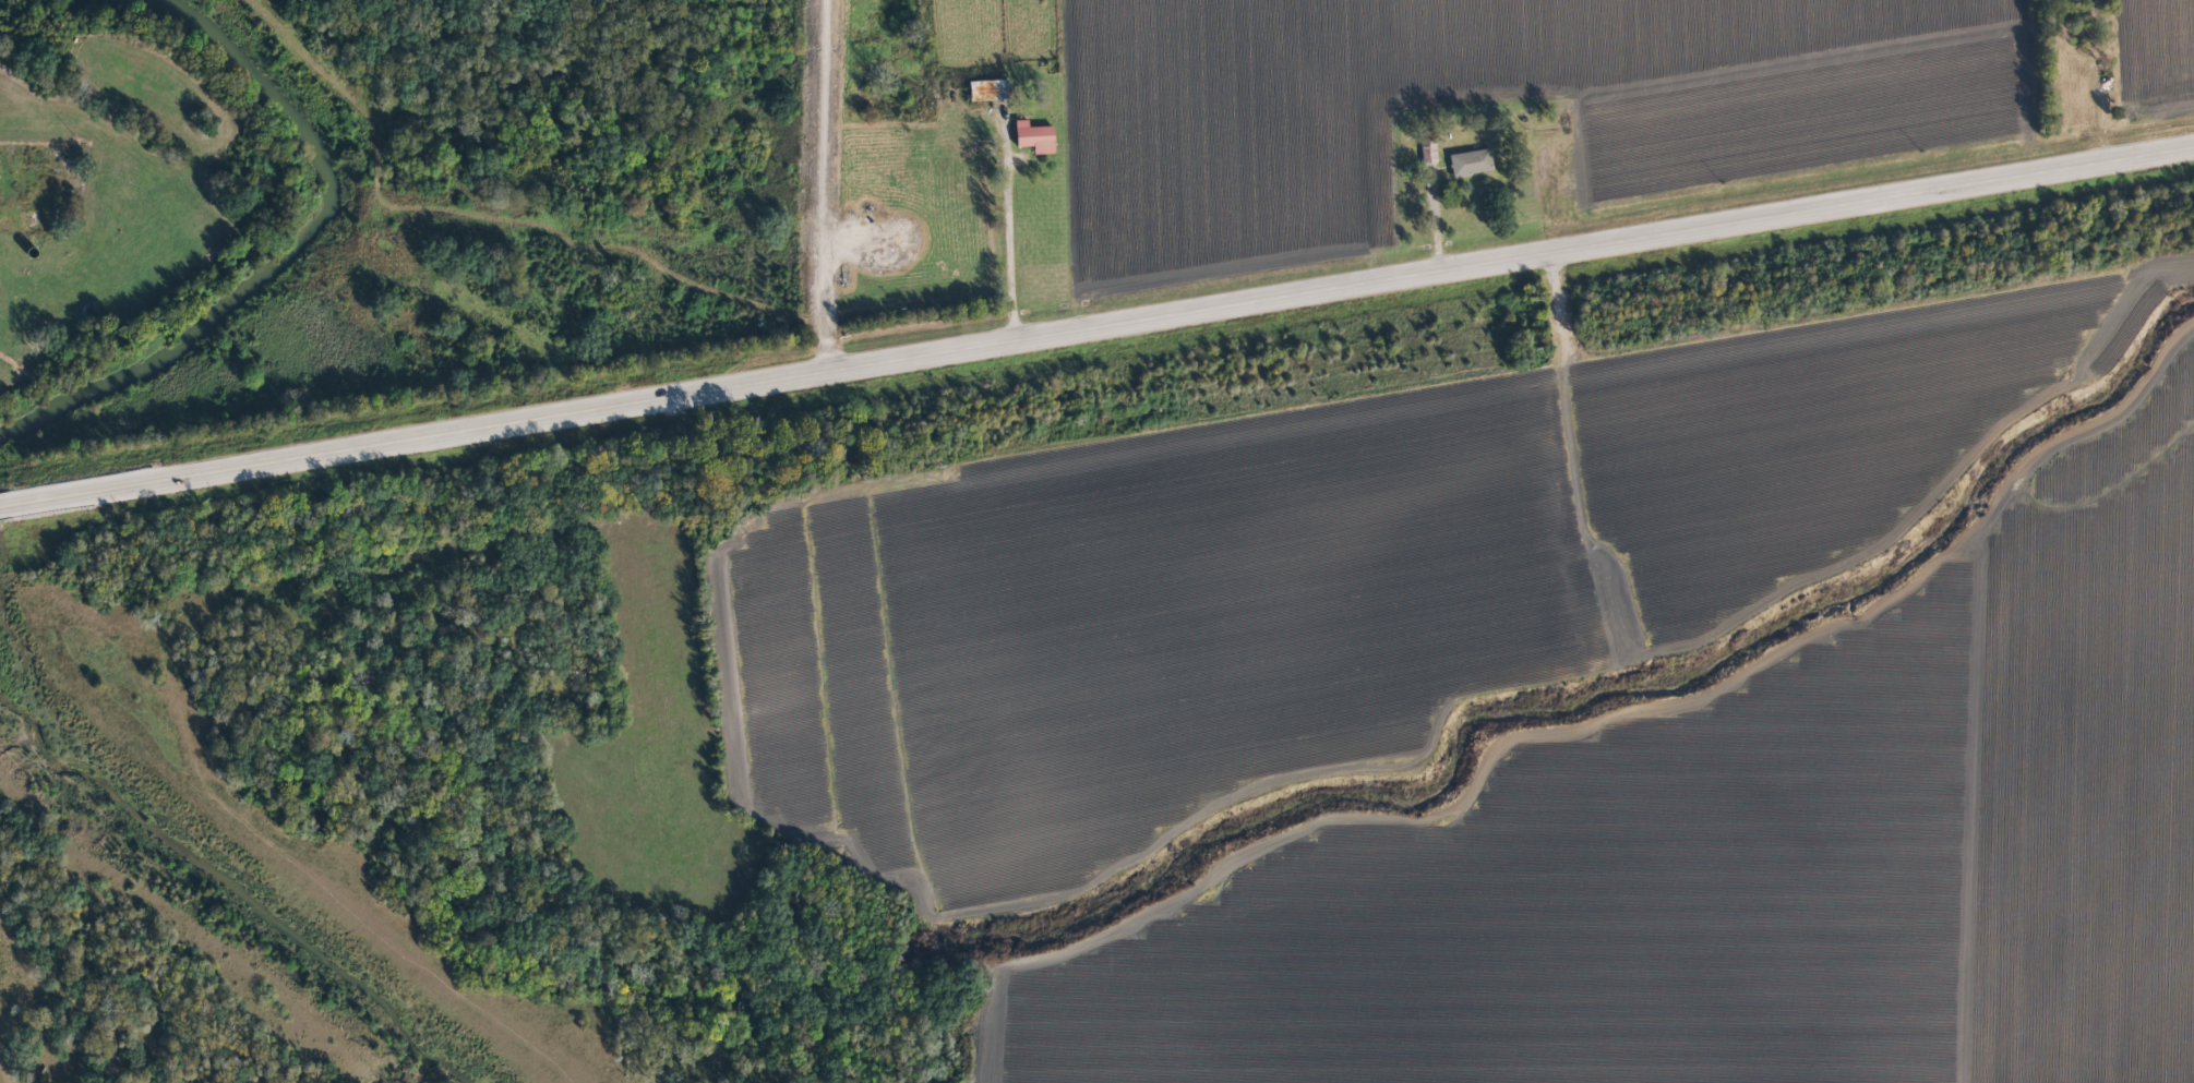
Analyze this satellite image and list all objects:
building: (984, 91)
building: (1030, 136)
building: (1470, 164)
river: (310, 241)
road: (1096, 320)
railway: (1096, 384)
river: (244, 866)

